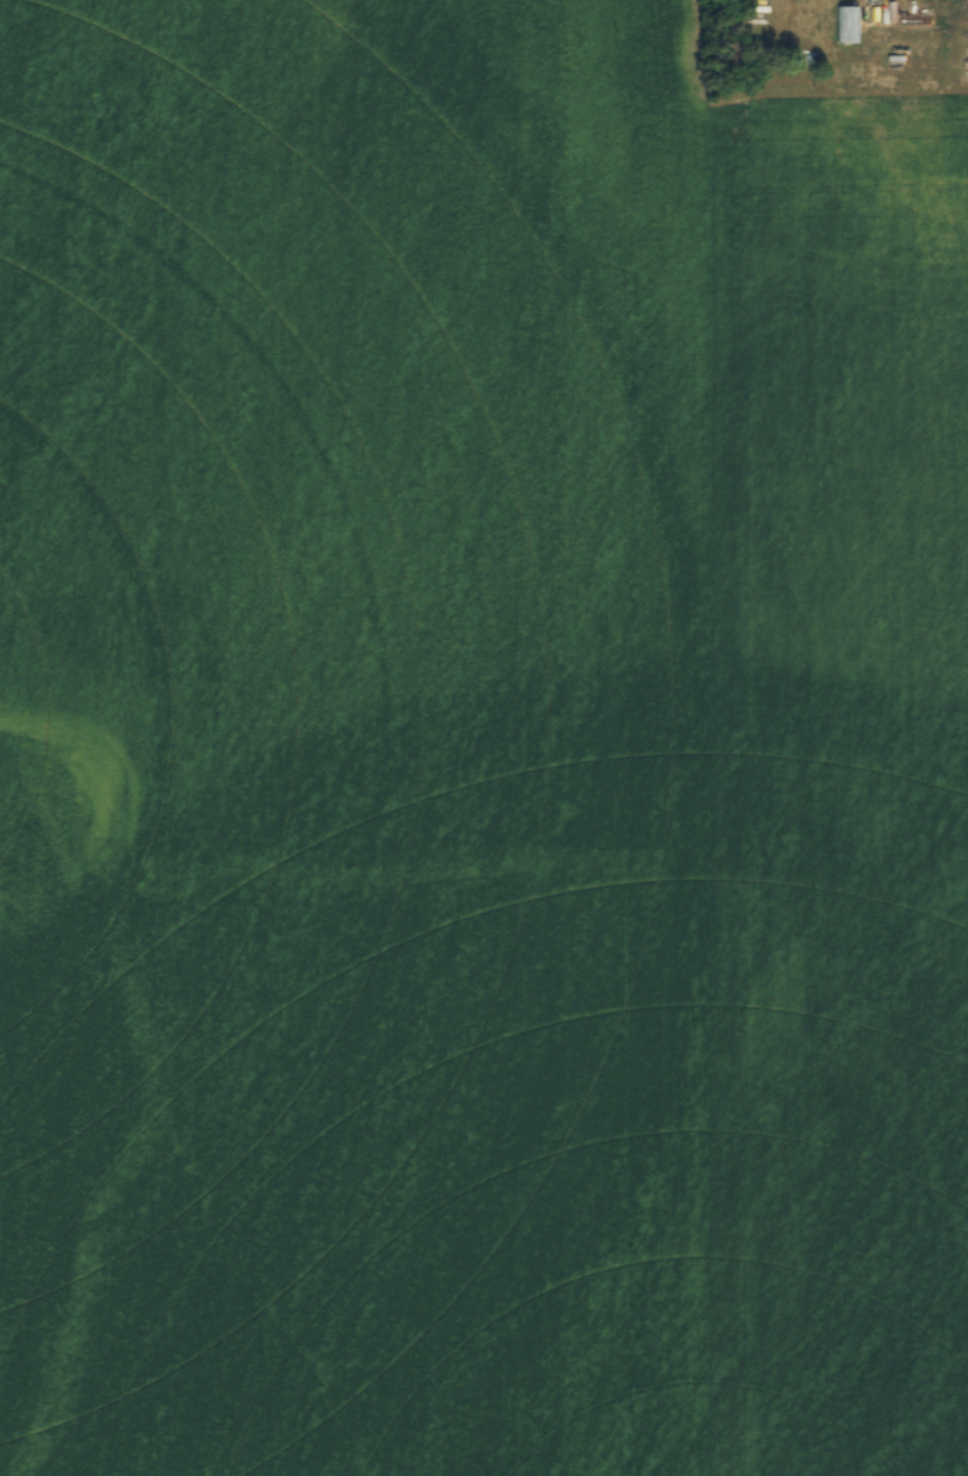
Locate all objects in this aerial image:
building: (856, 18)

